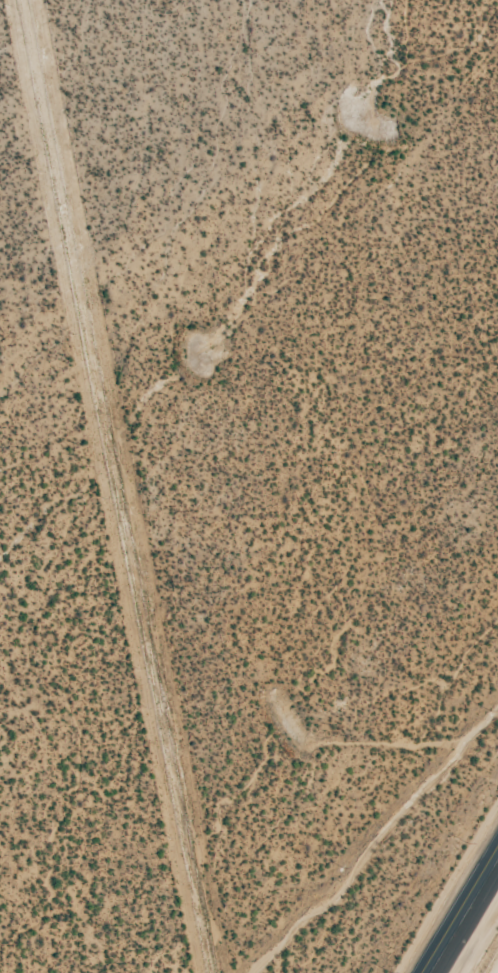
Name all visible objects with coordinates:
road: (464, 916)
road: (495, 968)

